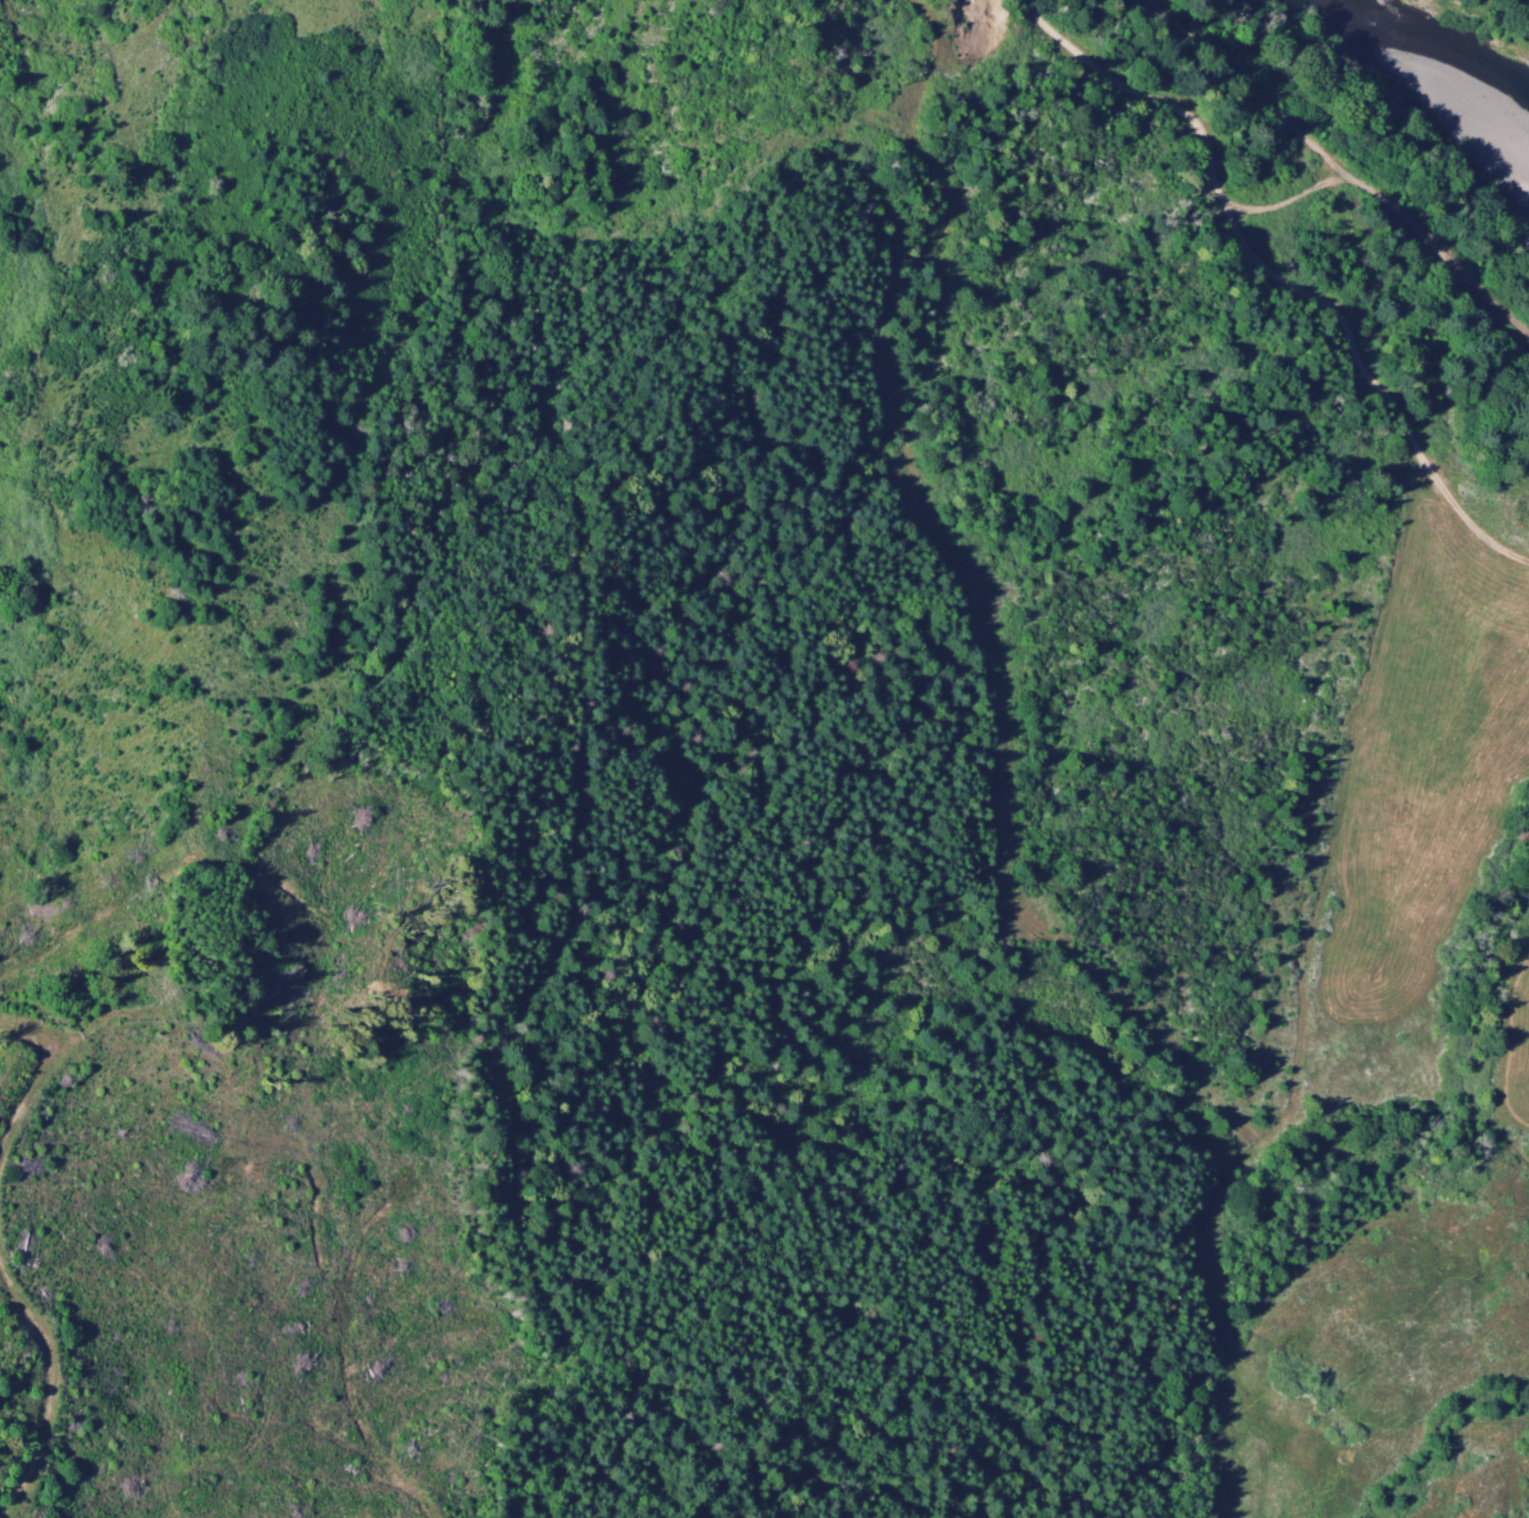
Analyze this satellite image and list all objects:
river: (1437, 84)
road: (1239, 86)
road: (1193, 123)
road: (1433, 255)
road: (1333, 330)
road: (19, 1295)

